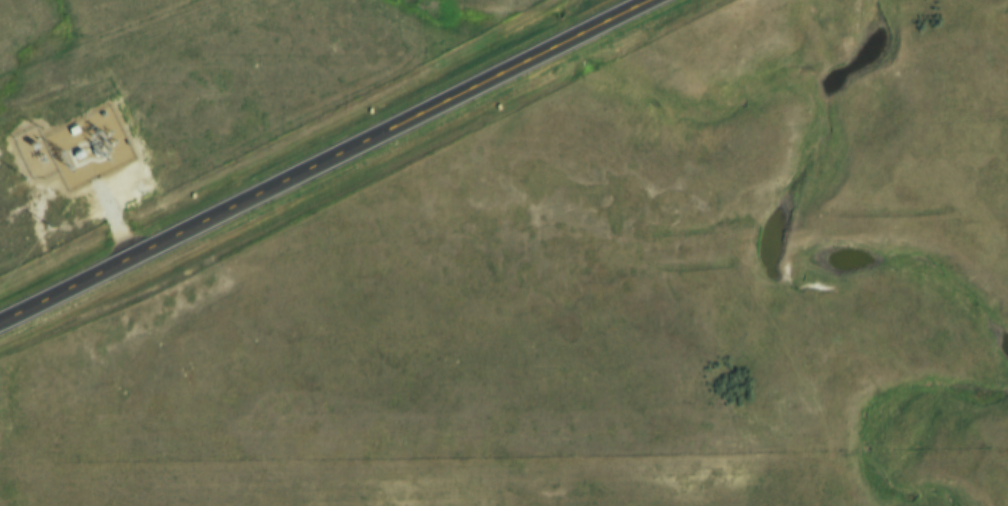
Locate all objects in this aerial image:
power substation: (81, 140)
road: (326, 164)

